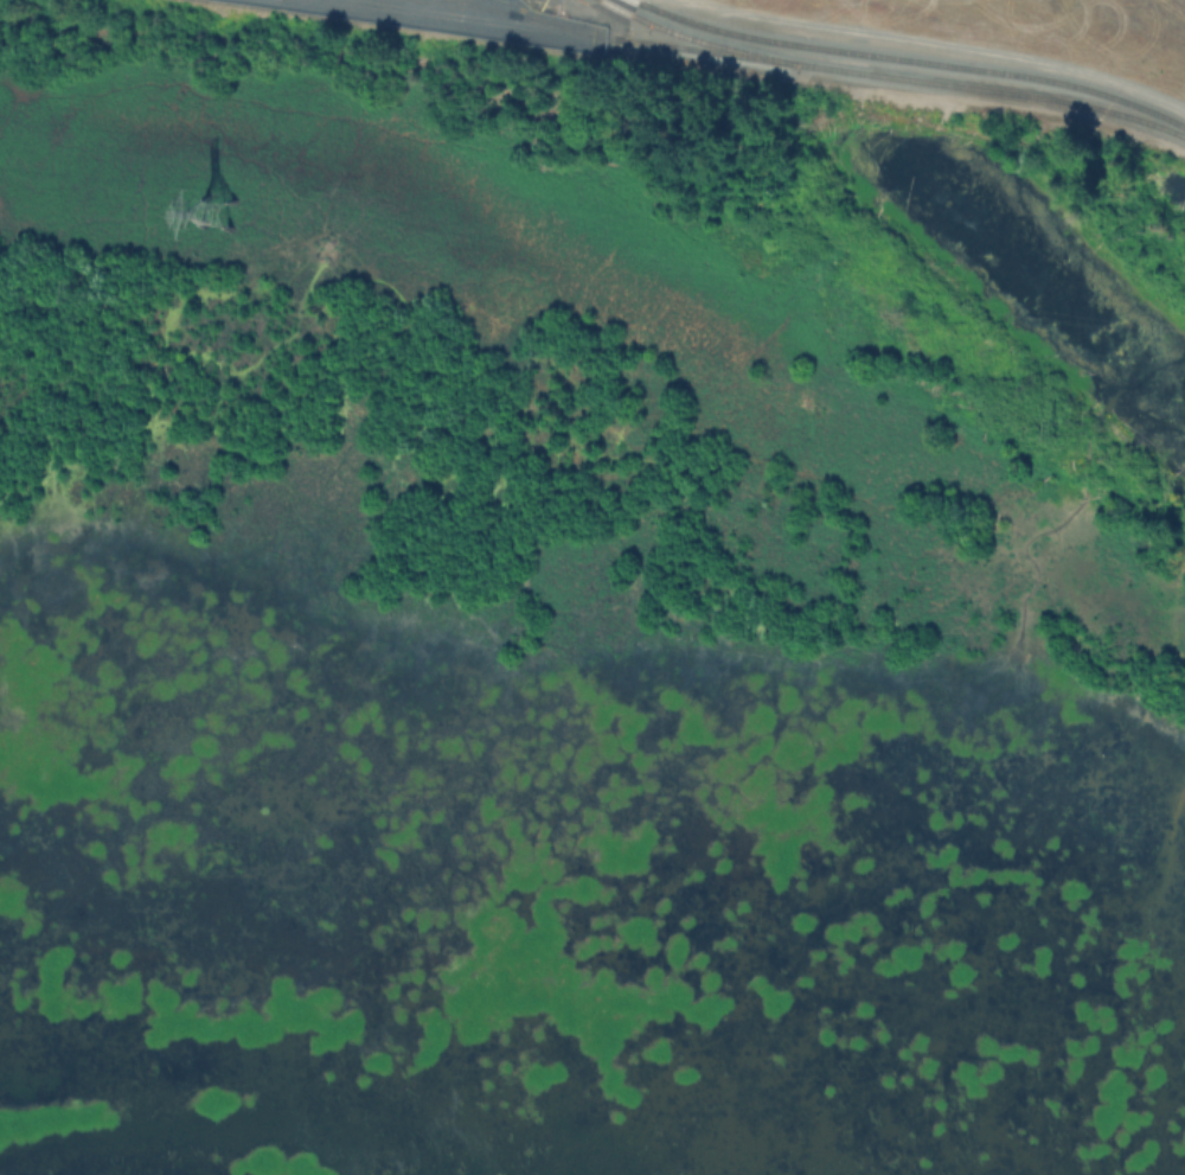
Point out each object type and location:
railway: (468, 6)
railway: (539, 20)
railway: (570, 32)
railway: (704, 40)
railway: (910, 59)
railway: (1000, 92)
power tower: (216, 211)

